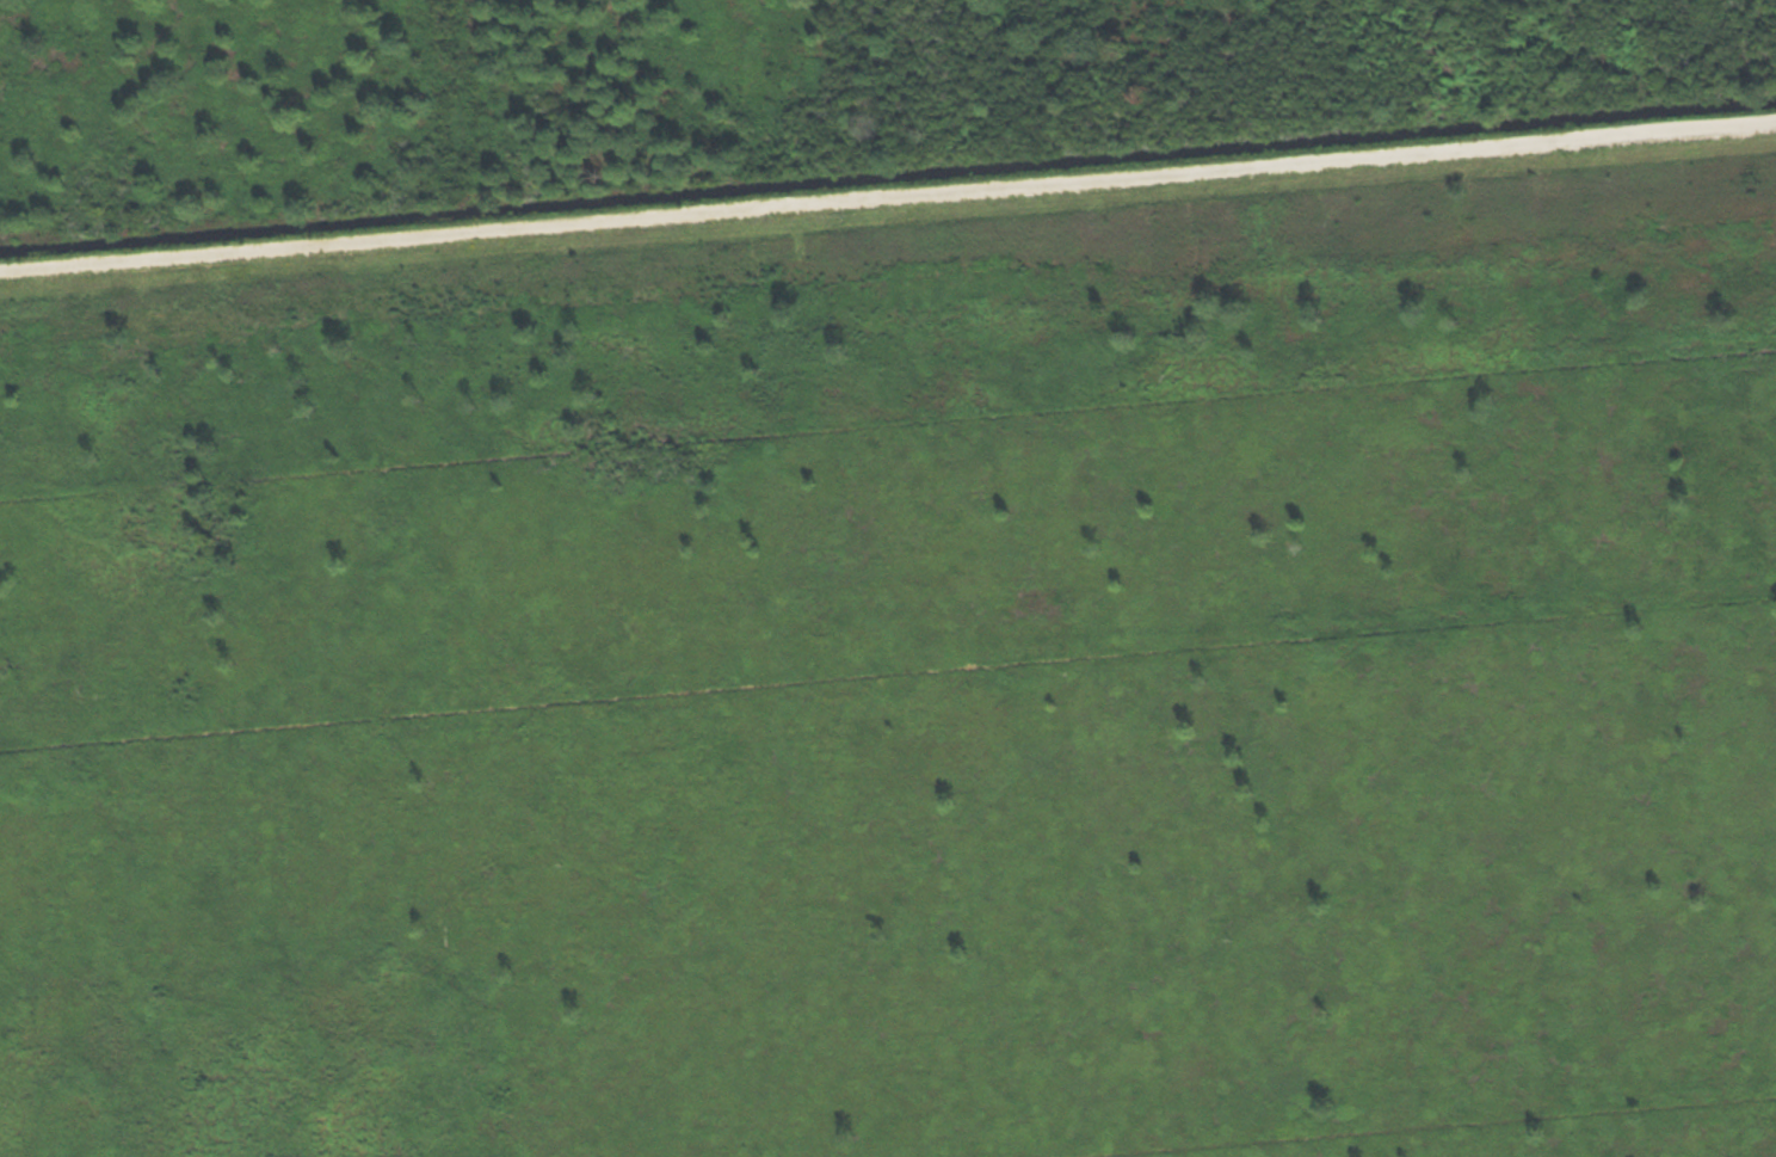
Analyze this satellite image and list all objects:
road: (888, 197)

